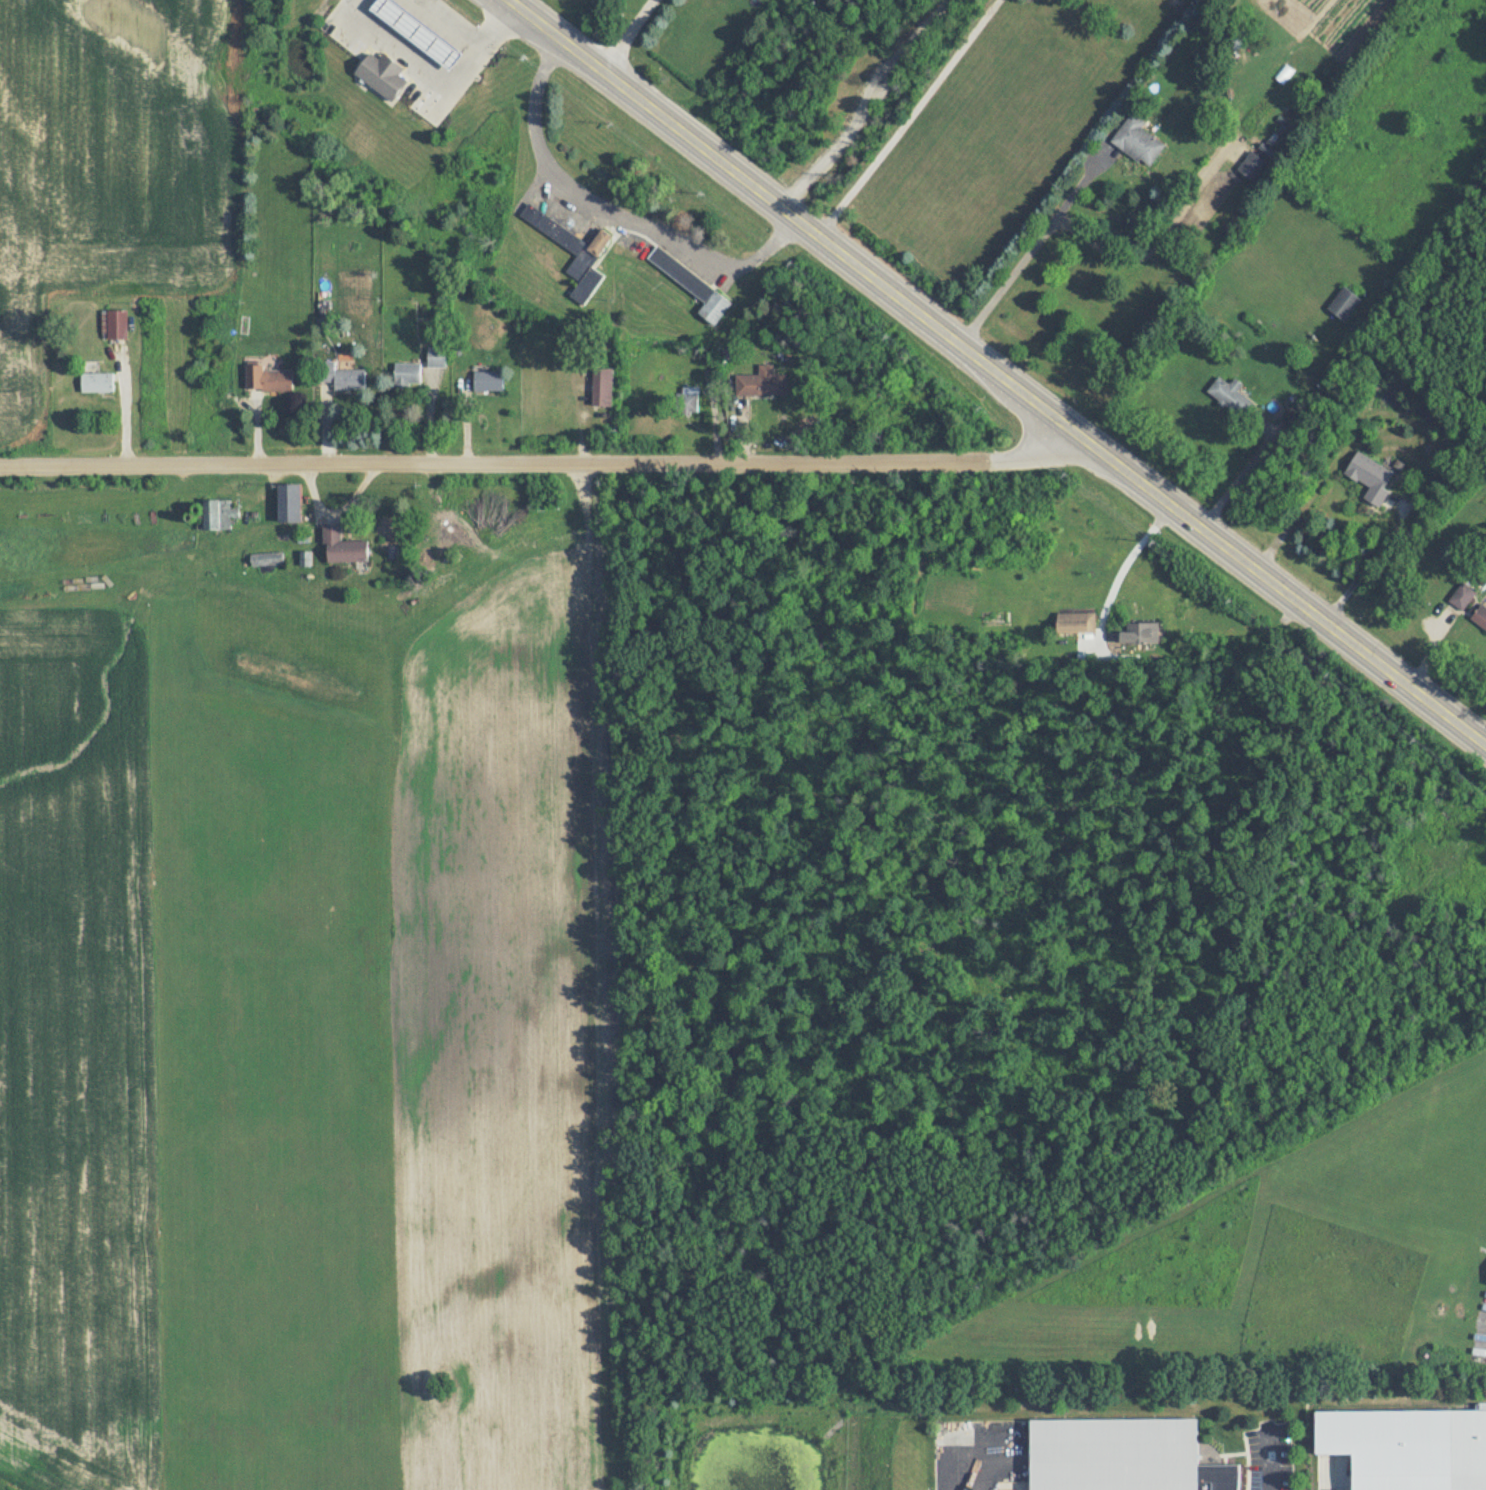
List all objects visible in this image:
road: (456, 19)
building: (417, 31)
road: (630, 37)
road: (435, 72)
building: (383, 73)
road: (864, 109)
road: (915, 122)
building: (1138, 140)
building: (1251, 165)
road: (612, 211)
building: (573, 250)
road: (1024, 253)
building: (693, 285)
building: (1344, 303)
building: (115, 324)
building: (437, 357)
road: (996, 373)
building: (407, 374)
building: (341, 376)
building: (269, 378)
building: (489, 380)
building: (97, 382)
building: (762, 382)
building: (602, 386)
building: (1231, 396)
building: (690, 399)
road: (125, 409)
road: (1418, 424)
road: (1252, 458)
road: (540, 462)
building: (1371, 477)
building: (289, 502)
building: (217, 514)
building: (343, 546)
building: (267, 559)
road: (1129, 559)
building: (1462, 597)
building: (1480, 617)
building: (1076, 622)
building: (1141, 634)
building: (1407, 1447)
building: (1122, 1455)
road: (1271, 1458)
road: (983, 1462)

